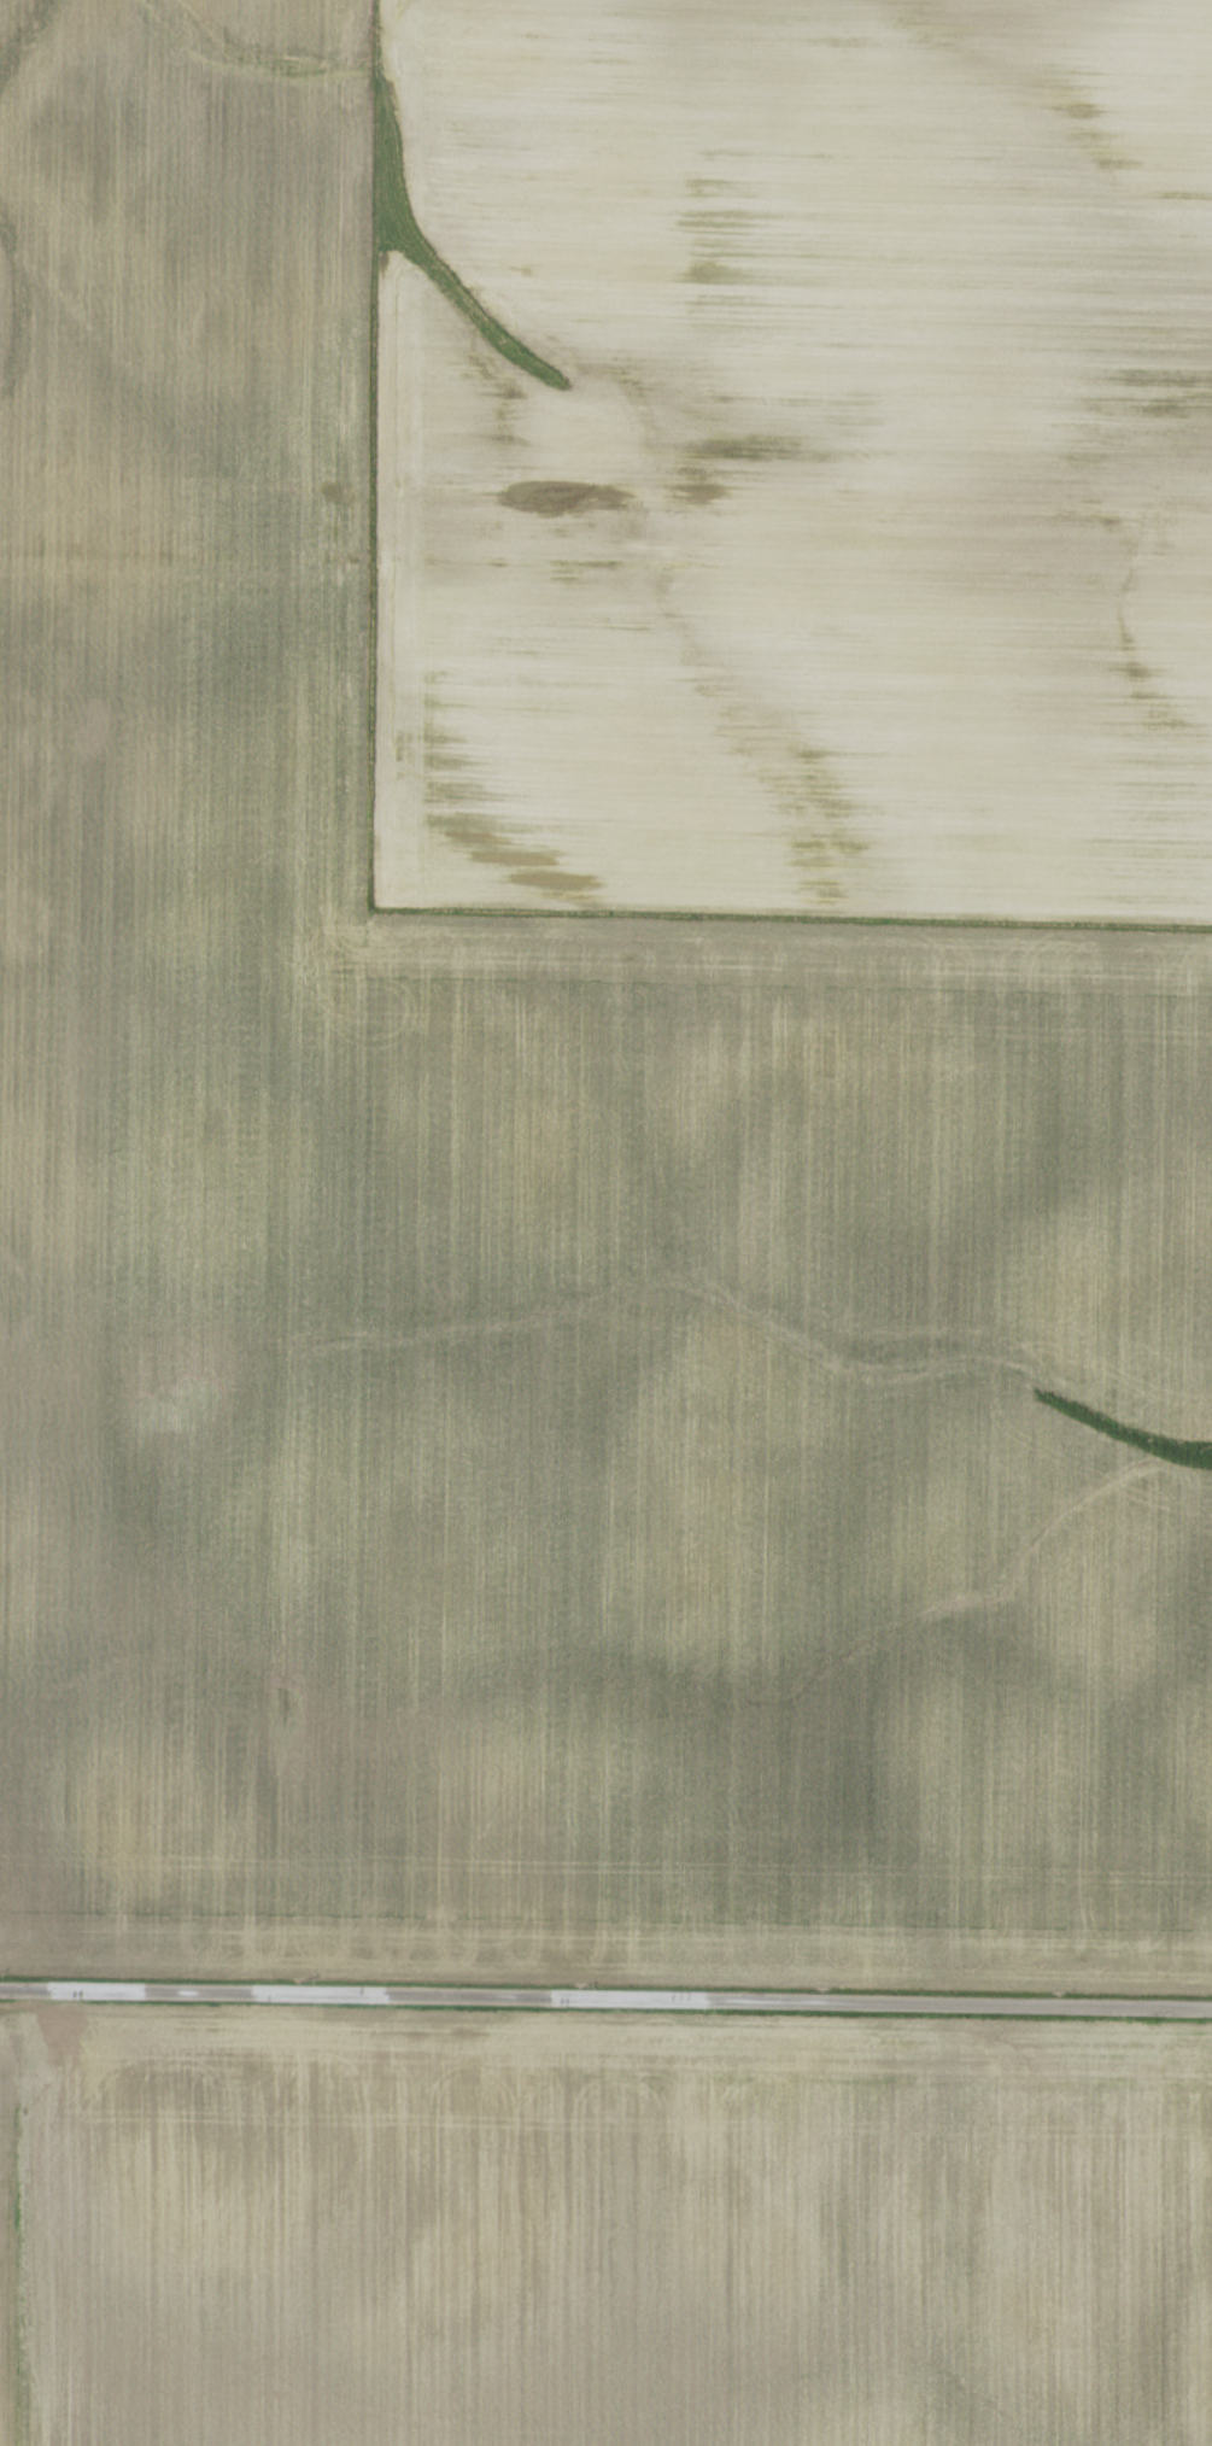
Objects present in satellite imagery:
road: (605, 1999)

